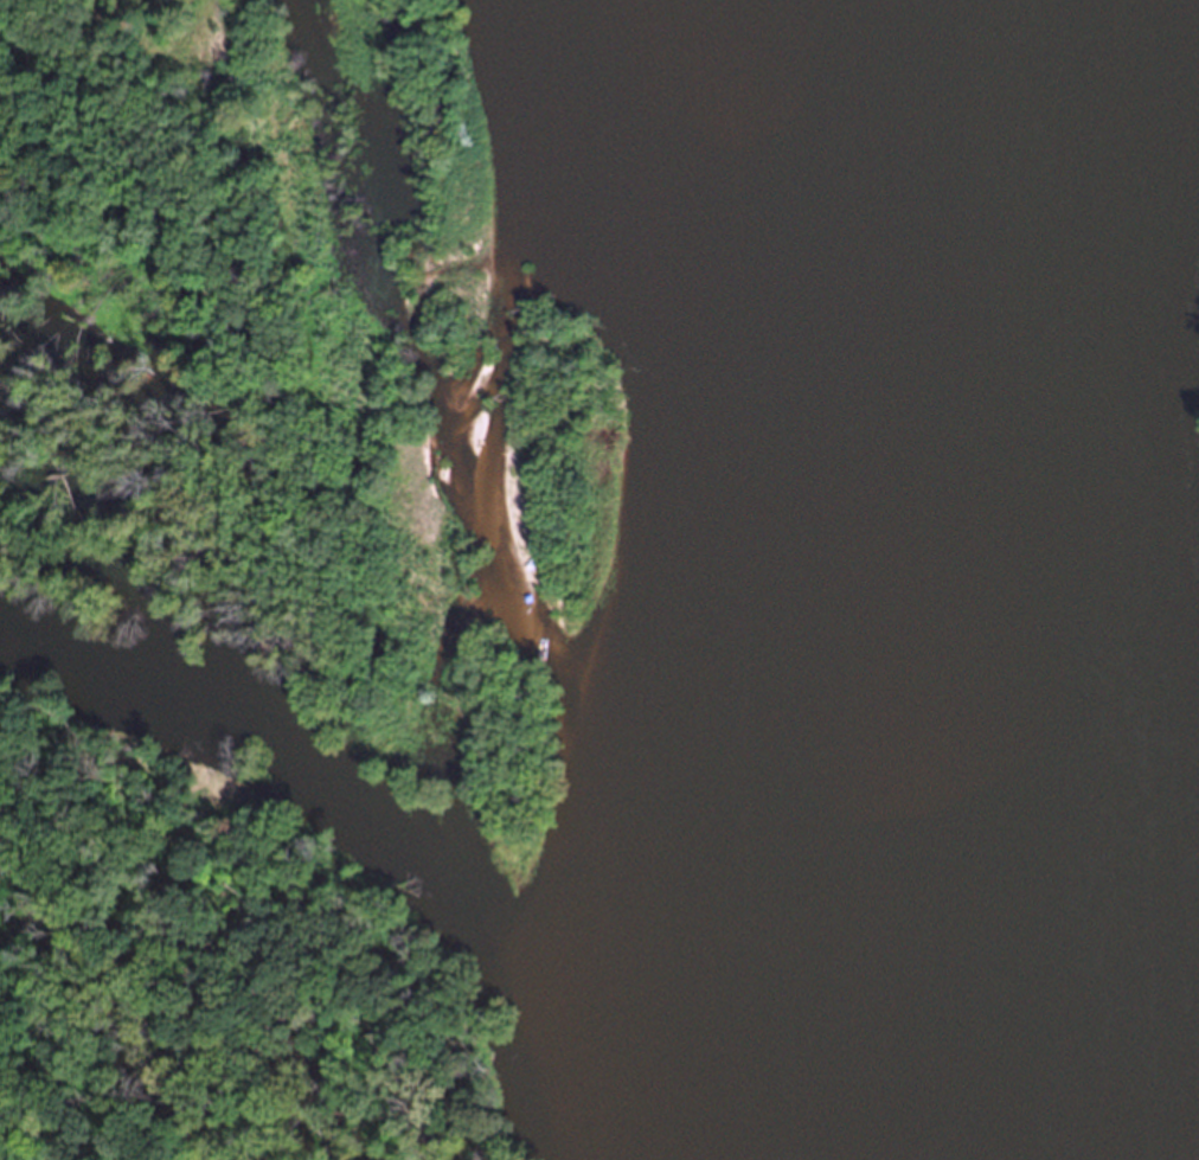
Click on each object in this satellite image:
river: (962, 511)

